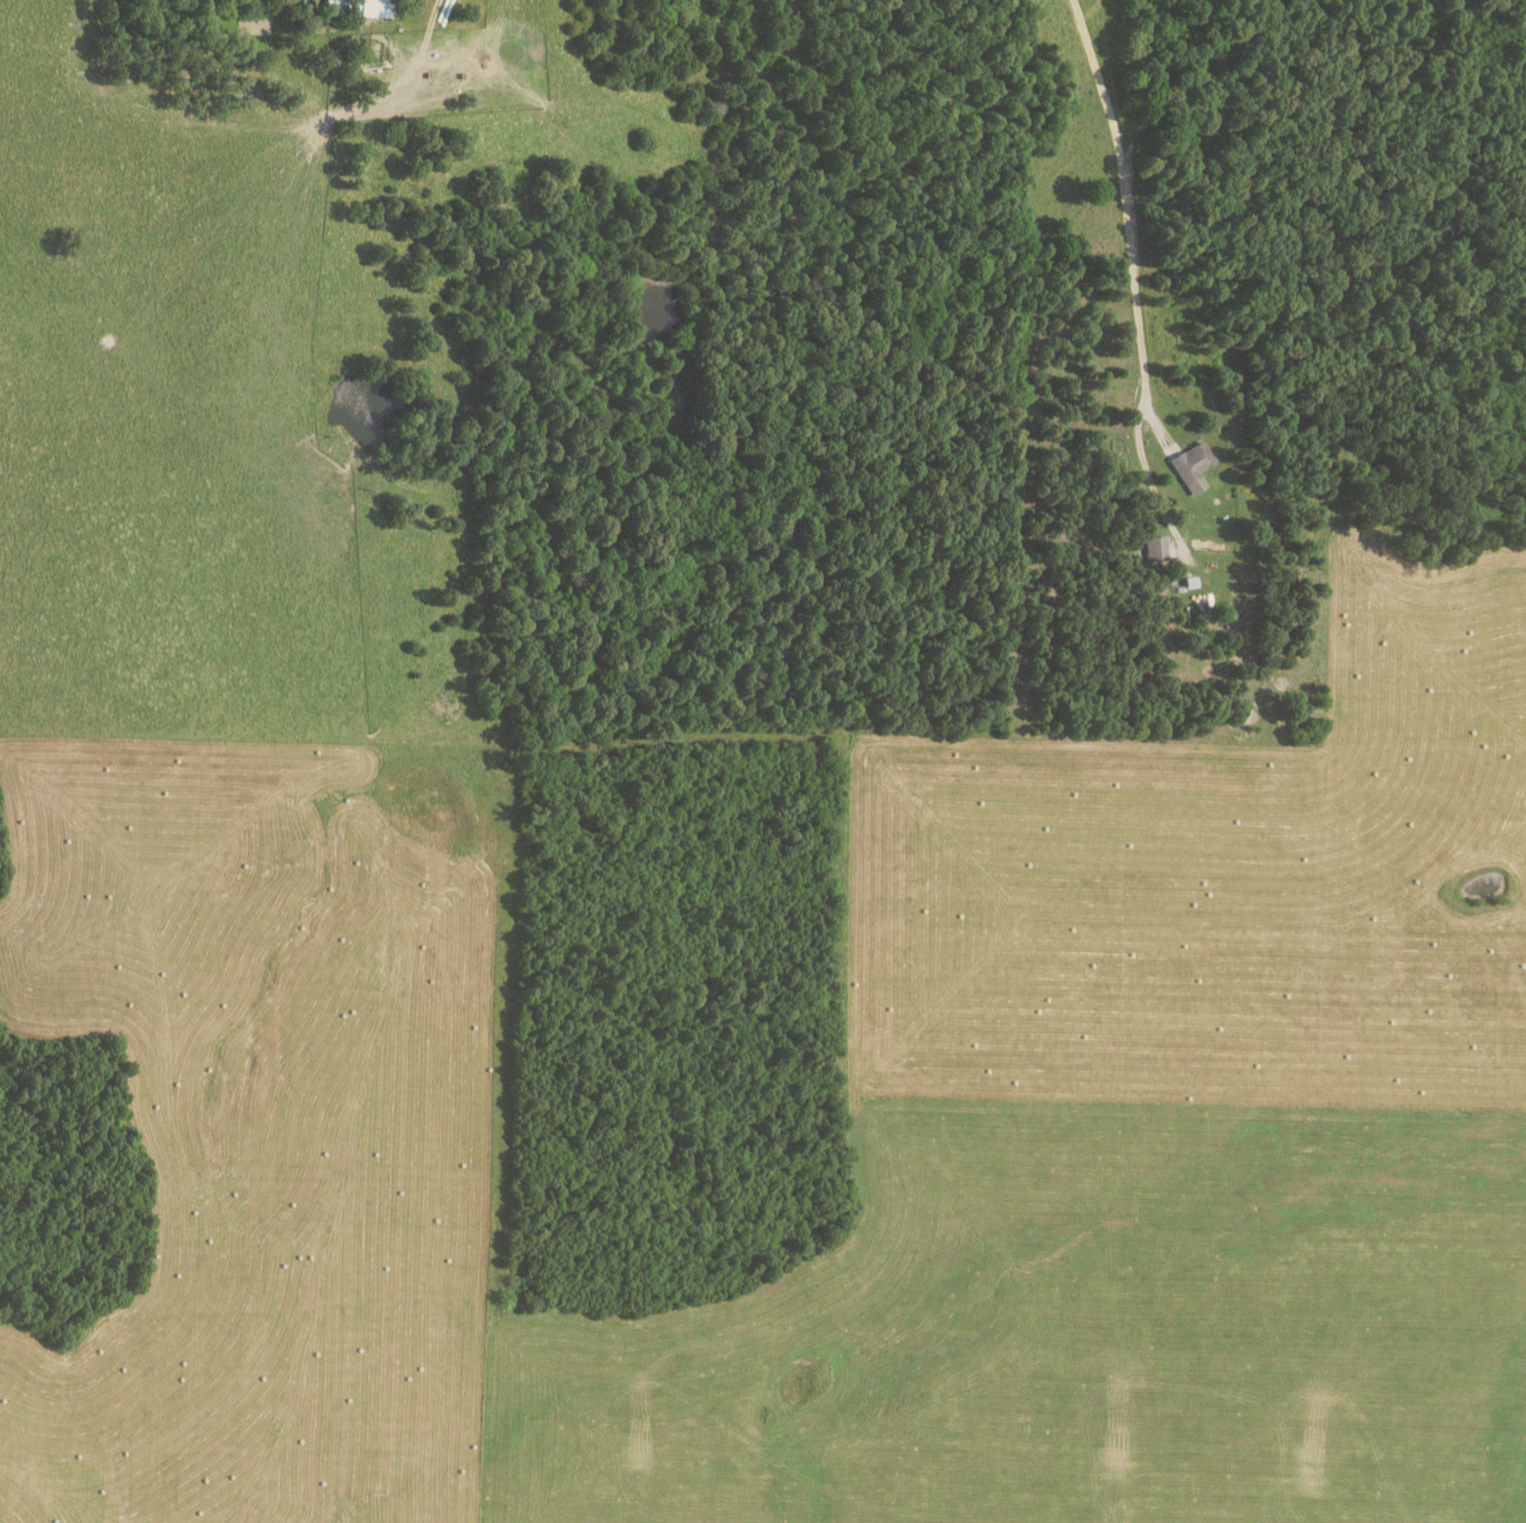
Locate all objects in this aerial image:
road: (1128, 223)
building: (1195, 467)
building: (1157, 548)

